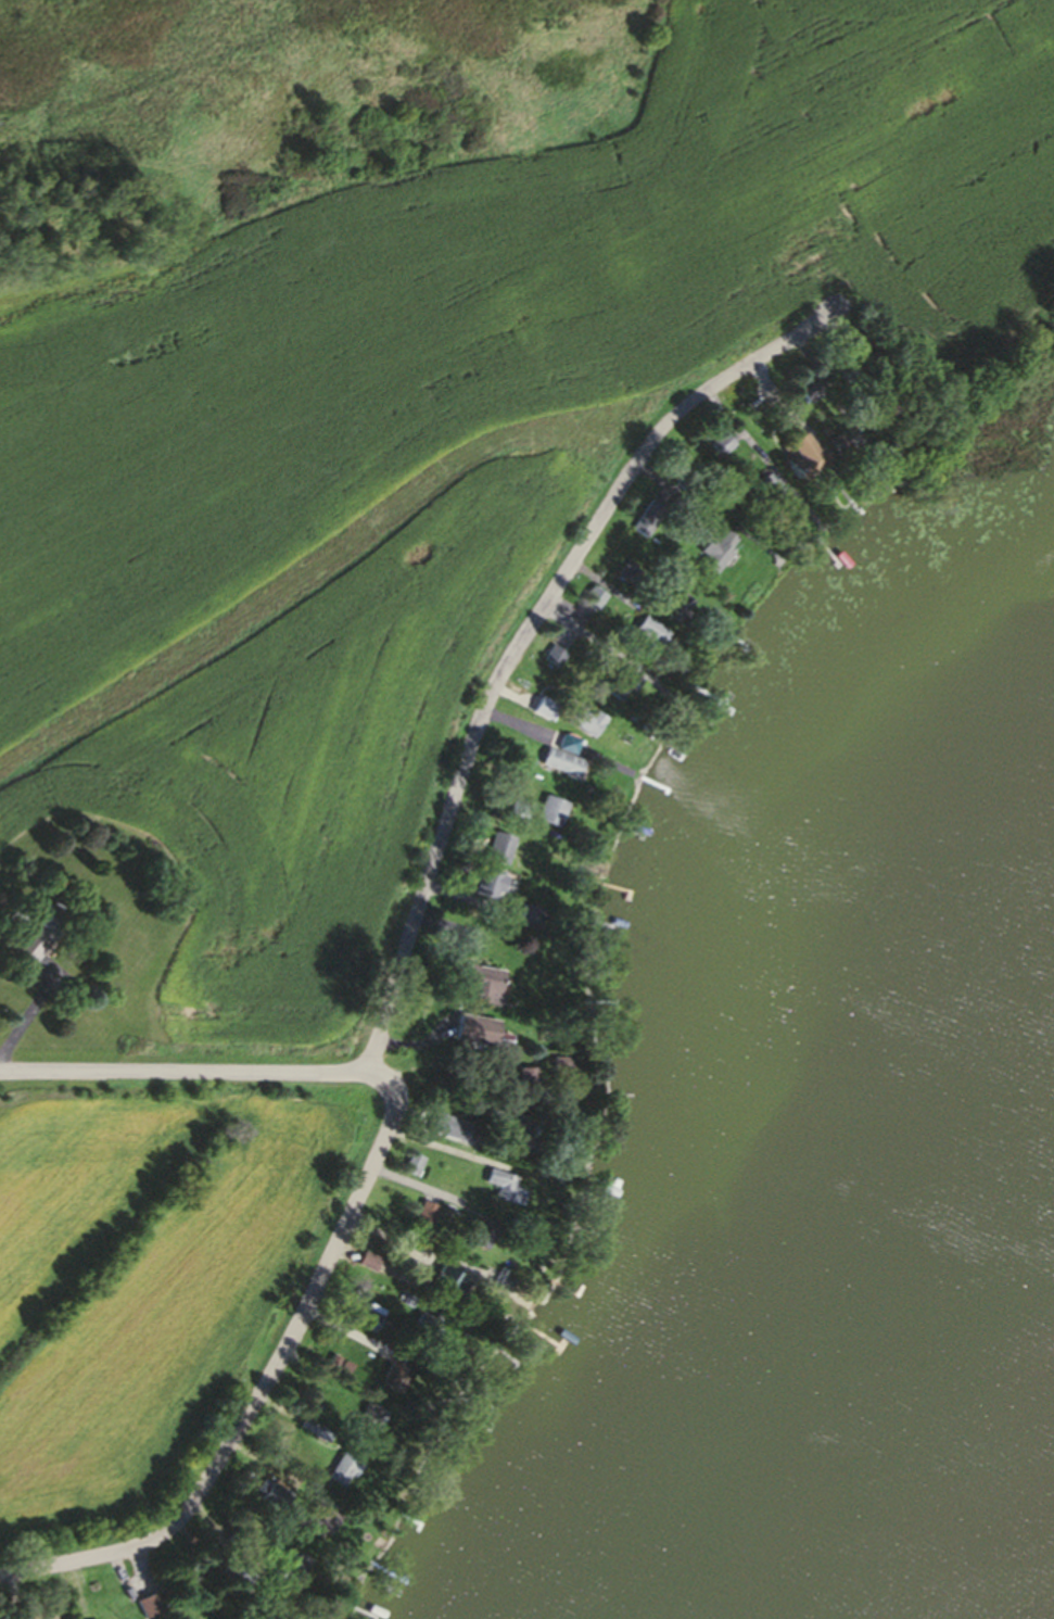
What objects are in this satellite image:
building: (800, 457)
building: (772, 490)
building: (718, 560)
building: (597, 603)
building: (652, 637)
road: (525, 642)
building: (625, 685)
building: (546, 711)
building: (589, 725)
building: (567, 759)
building: (521, 810)
building: (554, 814)
building: (500, 852)
building: (490, 887)
building: (37, 940)
building: (477, 985)
river: (912, 1010)
road: (25, 1012)
building: (478, 1034)
building: (561, 1066)
building: (528, 1086)
building: (510, 1131)
building: (460, 1135)
road: (447, 1148)
building: (417, 1169)
building: (505, 1192)
building: (429, 1218)
road: (352, 1219)
building: (371, 1265)
building: (450, 1291)
building: (371, 1326)
building: (422, 1330)
building: (395, 1380)
building: (371, 1426)
building: (345, 1475)
building: (321, 1523)
river: (977, 1546)
building: (151, 1609)

